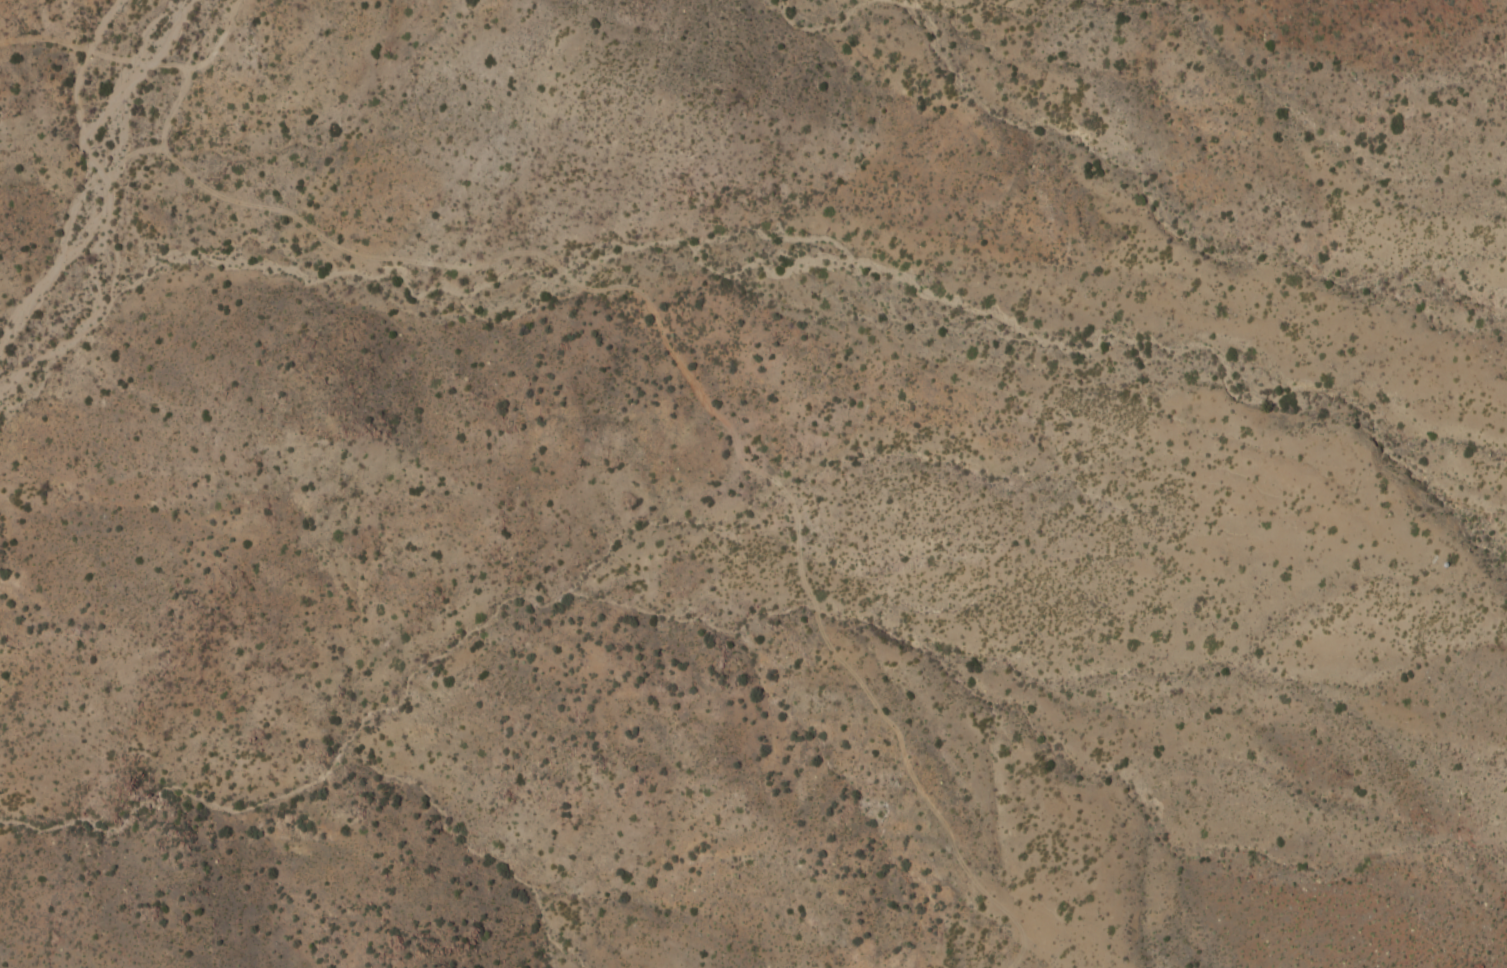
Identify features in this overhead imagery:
road: (94, 39)
road: (218, 41)
road: (687, 381)
road: (1068, 419)

